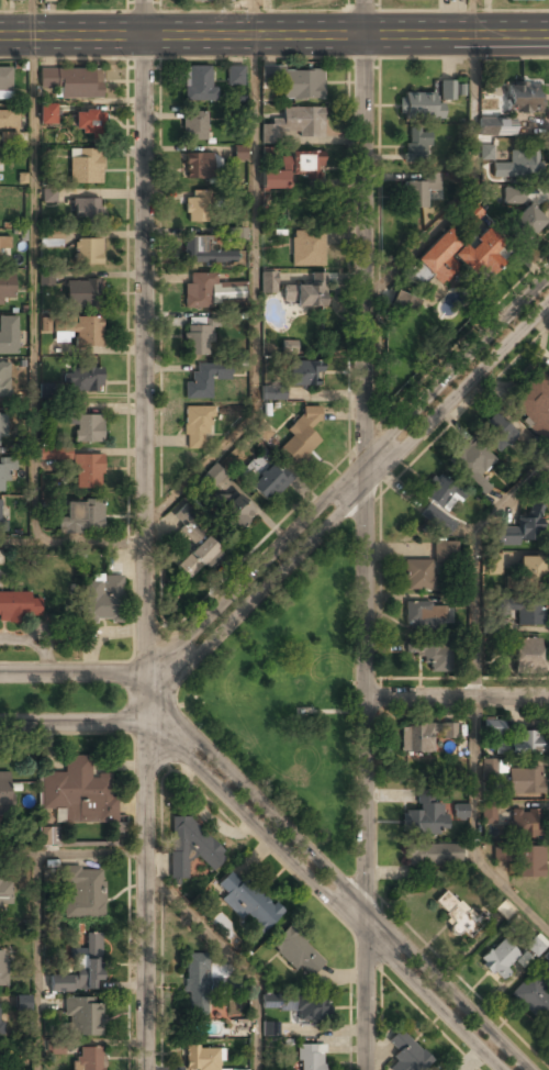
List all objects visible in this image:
building: (14, 0)
building: (48, 0)
building: (199, 0)
building: (417, 0)
building: (437, 0)
building: (531, 0)
road: (471, 16)
road: (33, 18)
road: (253, 18)
road: (273, 34)
building: (235, 76)
building: (72, 82)
building: (5, 83)
building: (198, 83)
building: (300, 83)
building: (451, 90)
building: (523, 99)
building: (419, 108)
building: (46, 114)
building: (9, 120)
building: (88, 122)
building: (293, 124)
building: (194, 125)
building: (488, 126)
building: (9, 138)
building: (416, 146)
building: (486, 152)
building: (239, 153)
building: (200, 164)
building: (85, 166)
building: (519, 166)
building: (292, 170)
building: (421, 190)
building: (49, 194)
building: (514, 197)
building: (198, 205)
building: (85, 209)
building: (473, 213)
building: (527, 221)
building: (237, 234)
building: (53, 238)
building: (4, 243)
building: (307, 249)
building: (205, 250)
building: (88, 252)
building: (455, 257)
building: (45, 277)
building: (267, 282)
building: (5, 287)
road: (32, 290)
building: (206, 290)
building: (82, 293)
building: (305, 293)
road: (255, 299)
building: (404, 302)
building: (88, 332)
building: (9, 335)
building: (197, 339)
building: (289, 346)
building: (305, 375)
building: (82, 378)
building: (204, 380)
building: (4, 381)
building: (272, 391)
building: (533, 401)
building: (86, 424)
building: (197, 427)
building: (1, 430)
building: (260, 431)
building: (498, 431)
building: (302, 434)
building: (55, 453)
road: (362, 464)
building: (470, 467)
building: (87, 470)
building: (4, 477)
building: (212, 477)
building: (266, 477)
road: (368, 486)
building: (437, 504)
building: (234, 513)
building: (0, 516)
building: (81, 517)
building: (188, 522)
building: (520, 532)
road: (147, 535)
road: (368, 535)
road: (74, 543)
building: (197, 551)
building: (445, 551)
building: (493, 568)
building: (529, 569)
building: (417, 576)
building: (102, 600)
building: (19, 605)
building: (528, 612)
building: (424, 614)
building: (427, 654)
building: (527, 655)
road: (164, 668)
road: (72, 672)
road: (475, 693)
road: (458, 698)
road: (72, 723)
road: (166, 723)
building: (492, 727)
building: (424, 735)
building: (527, 743)
building: (490, 769)
building: (524, 781)
building: (80, 792)
building: (5, 793)
building: (460, 811)
building: (489, 812)
building: (424, 816)
building: (524, 824)
building: (49, 836)
building: (190, 846)
road: (72, 851)
building: (433, 854)
building: (501, 854)
building: (529, 861)
building: (80, 891)
building: (4, 892)
road: (359, 900)
building: (247, 902)
road: (338, 904)
building: (452, 912)
building: (535, 946)
building: (298, 954)
road: (235, 957)
building: (500, 959)
road: (35, 961)
building: (80, 967)
building: (2, 968)
building: (195, 989)
building: (533, 997)
building: (20, 1002)
building: (296, 1006)
building: (82, 1015)
building: (1, 1027)
building: (270, 1028)
building: (55, 1046)
building: (406, 1054)
building: (90, 1058)
building: (202, 1058)
building: (311, 1058)

